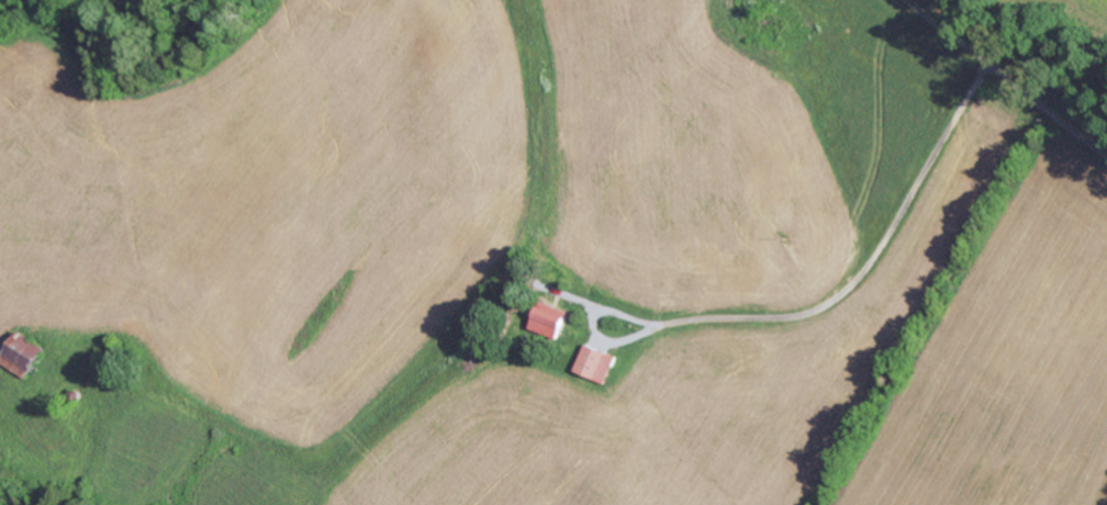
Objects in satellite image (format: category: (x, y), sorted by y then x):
road: (989, 91)
building: (552, 322)
building: (24, 355)
building: (600, 363)

